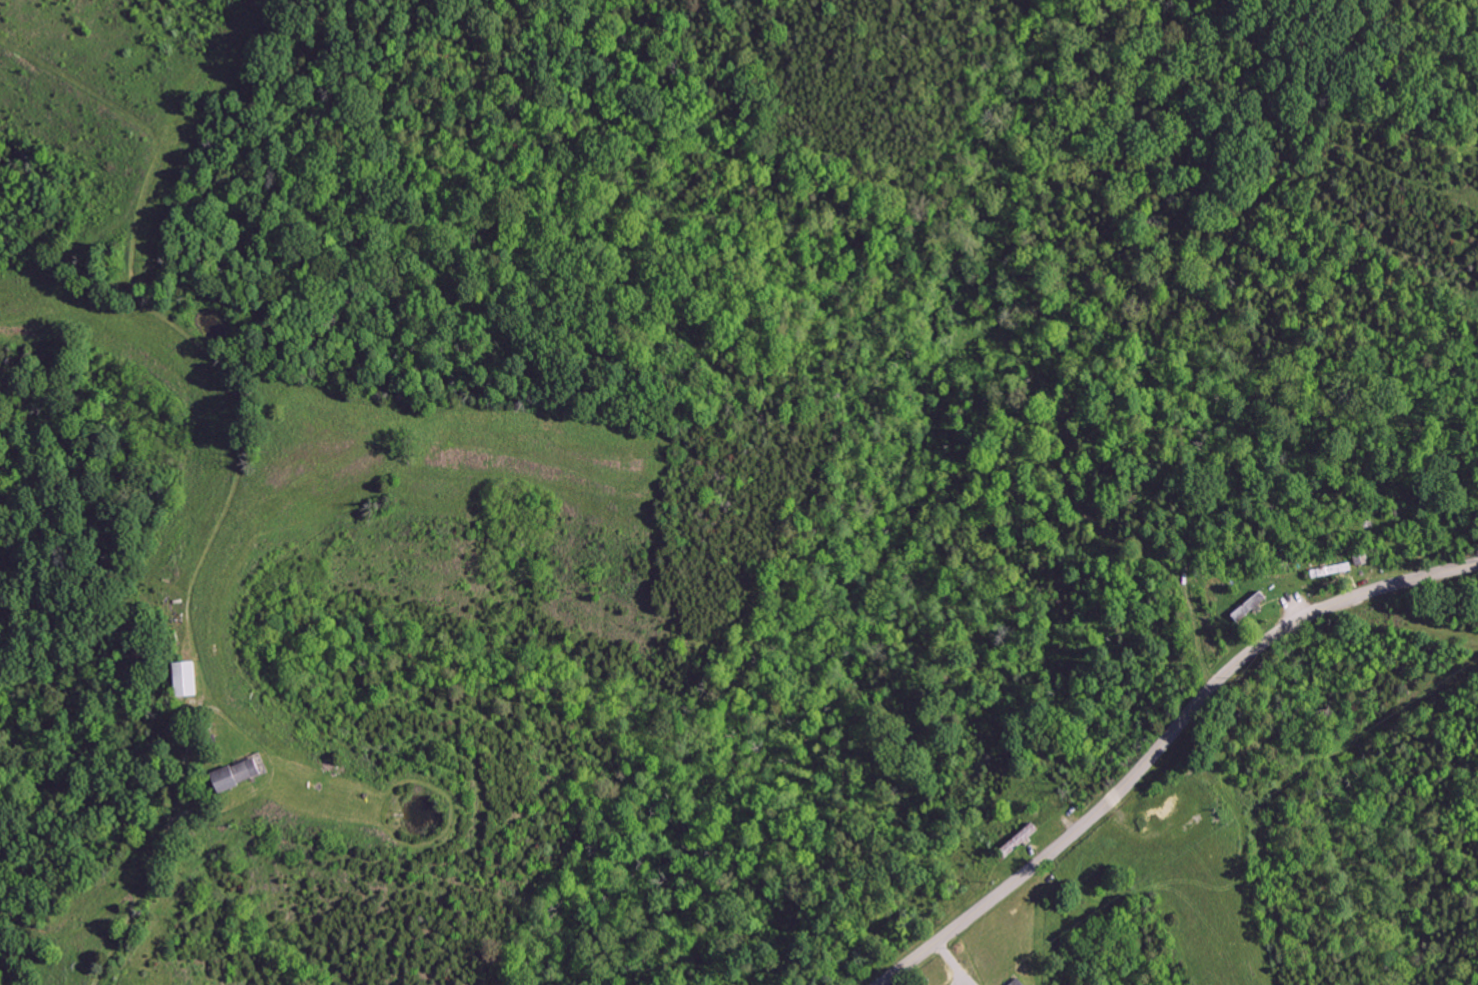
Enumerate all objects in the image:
road: (1160, 742)
building: (242, 773)
road: (152, 861)
building: (1021, 982)

